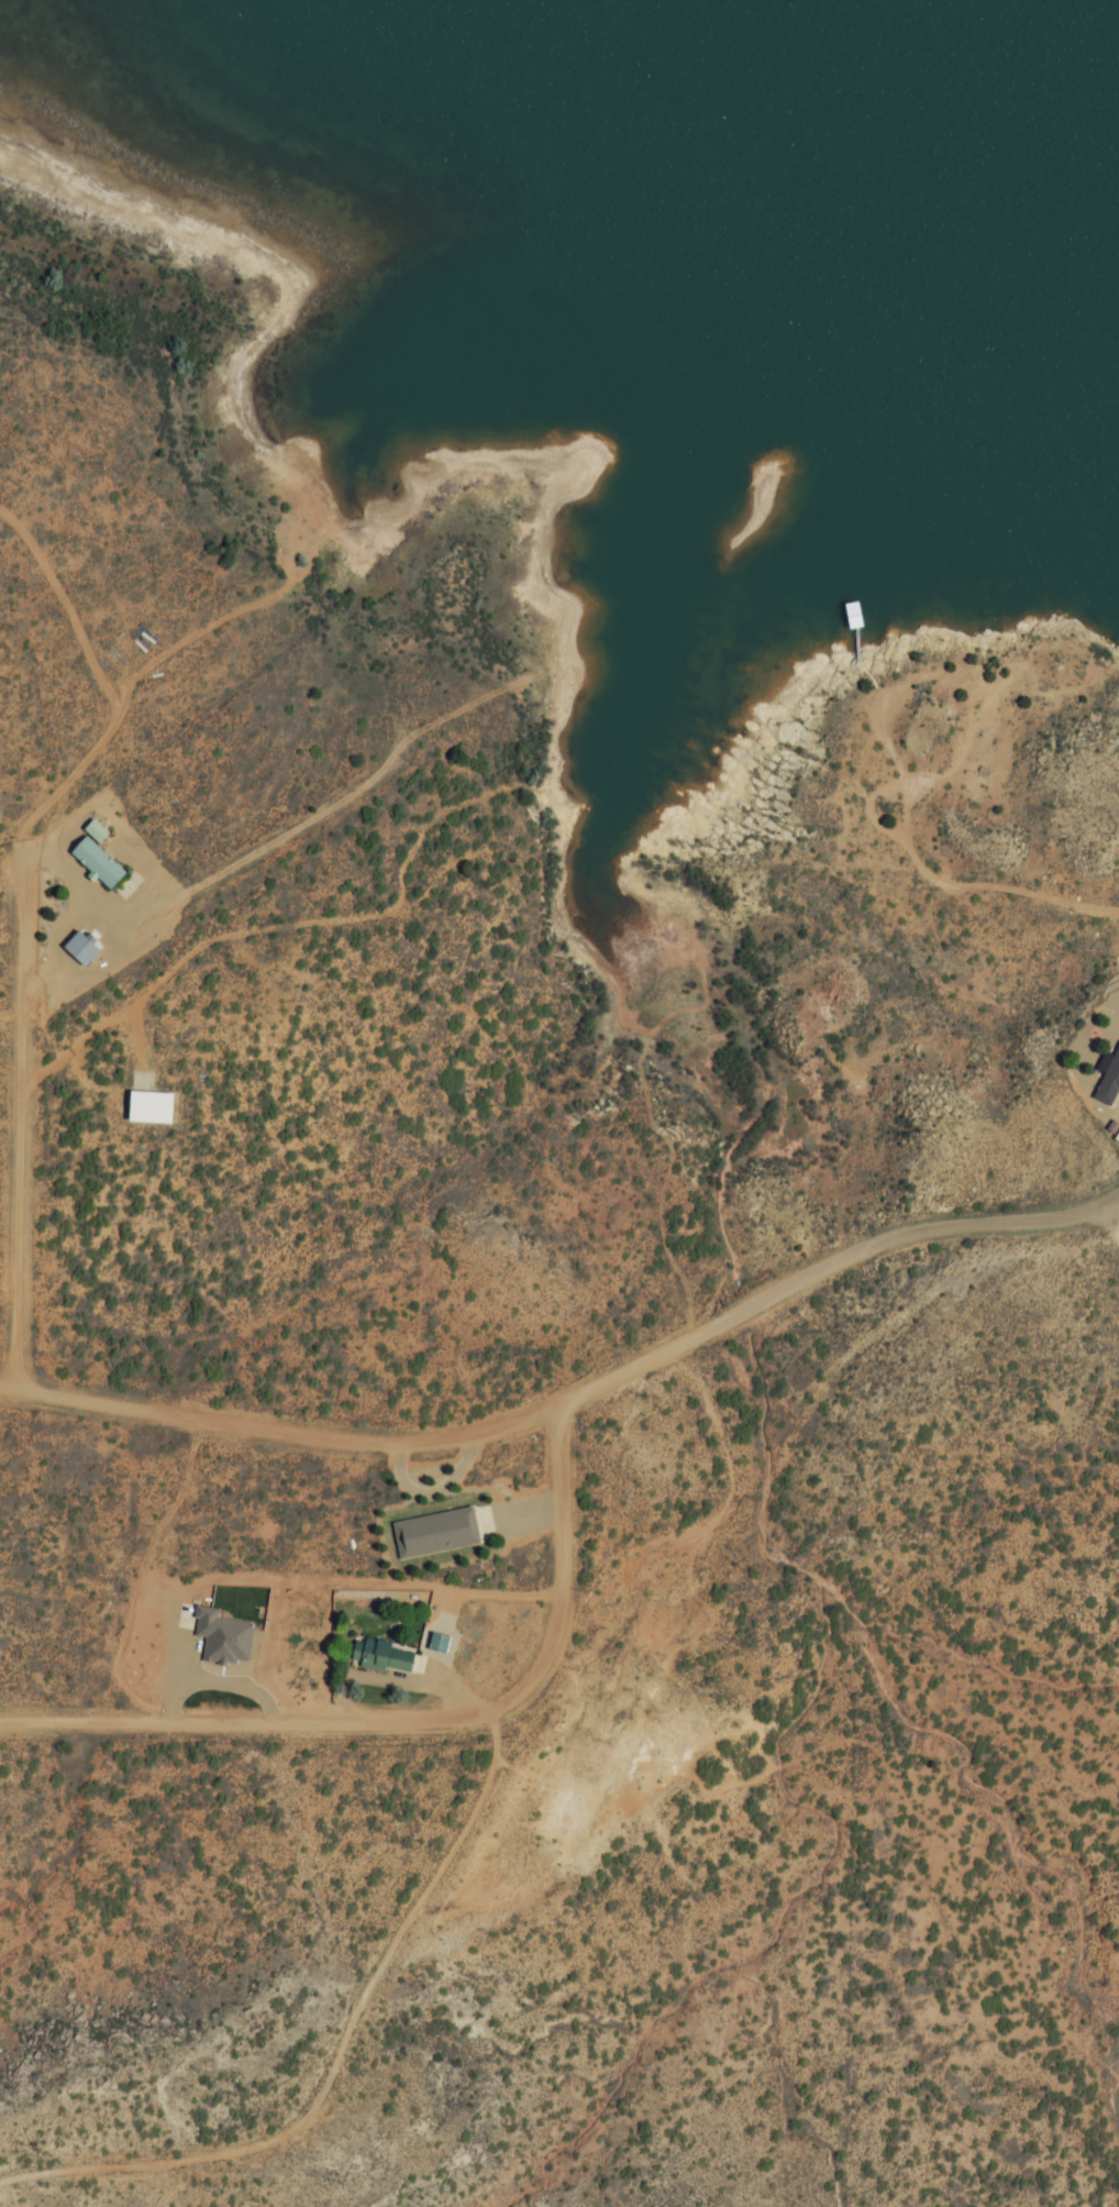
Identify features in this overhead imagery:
building: (84, 862)
building: (70, 949)
building: (1101, 1075)
building: (143, 1107)
road: (26, 1114)
building: (1111, 1136)
road: (579, 1401)
building: (378, 1657)
road: (410, 1719)

